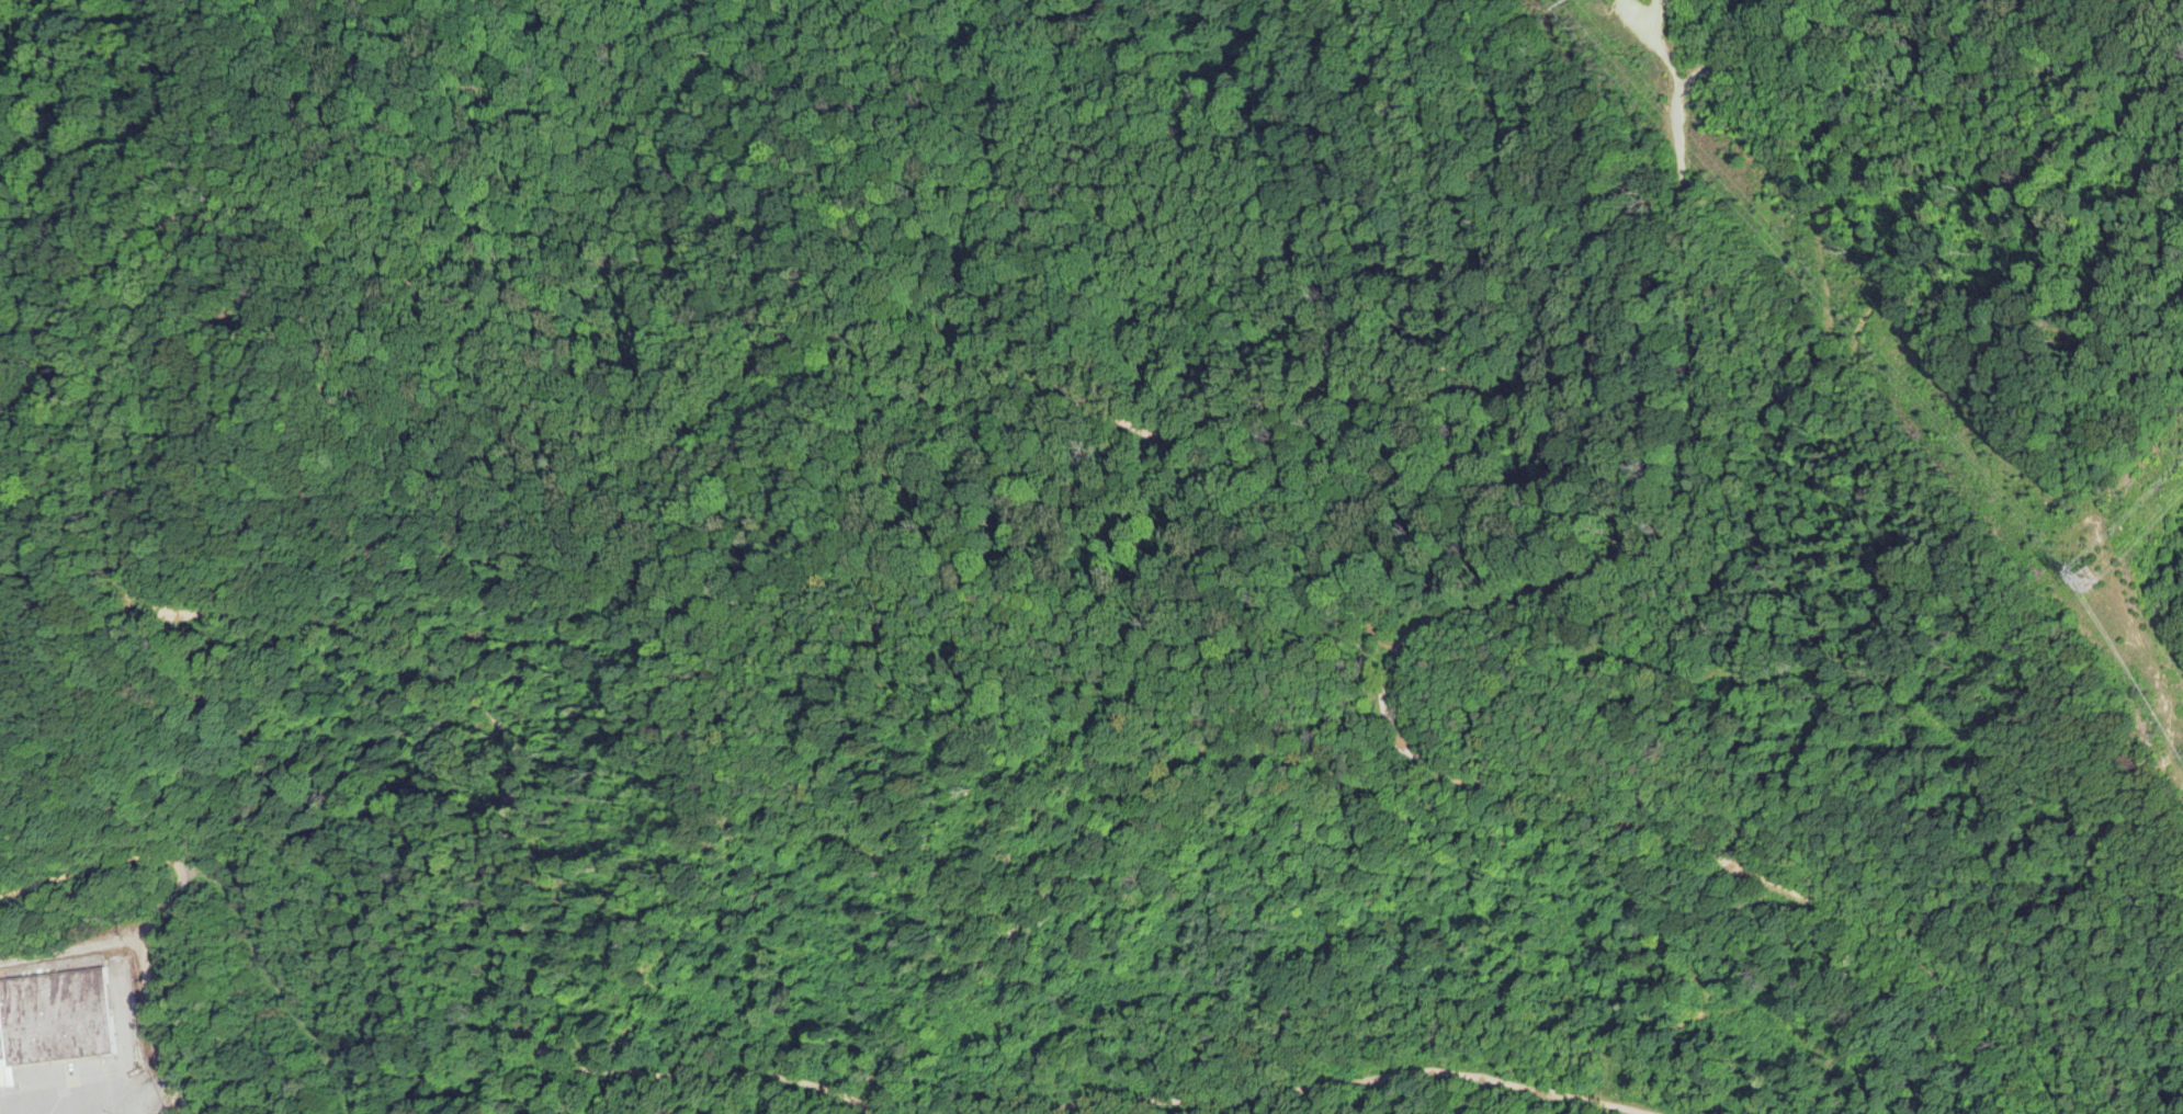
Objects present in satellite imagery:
building: (54, 1025)

